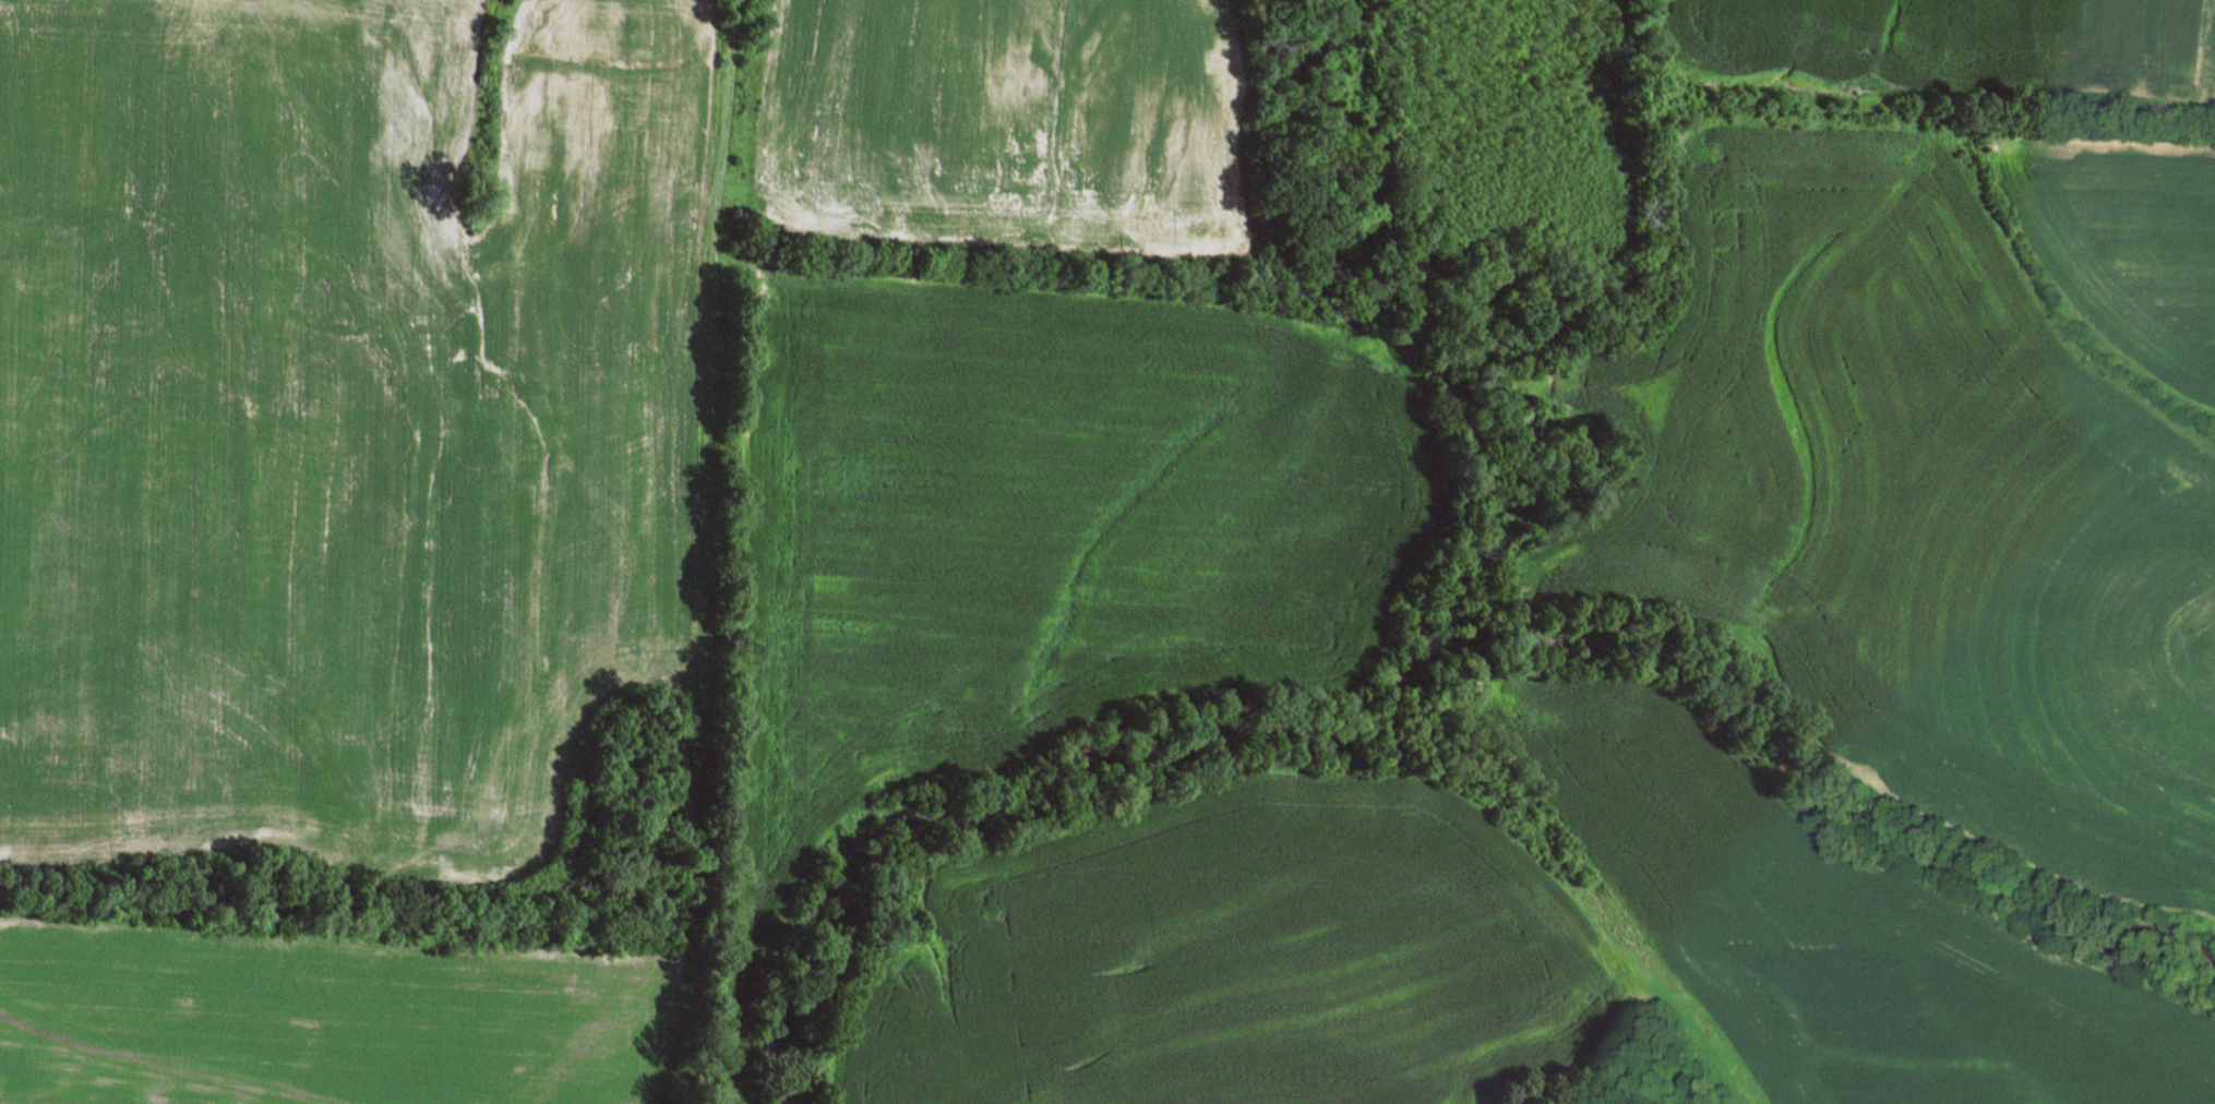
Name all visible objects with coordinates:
road: (1165, 120)

